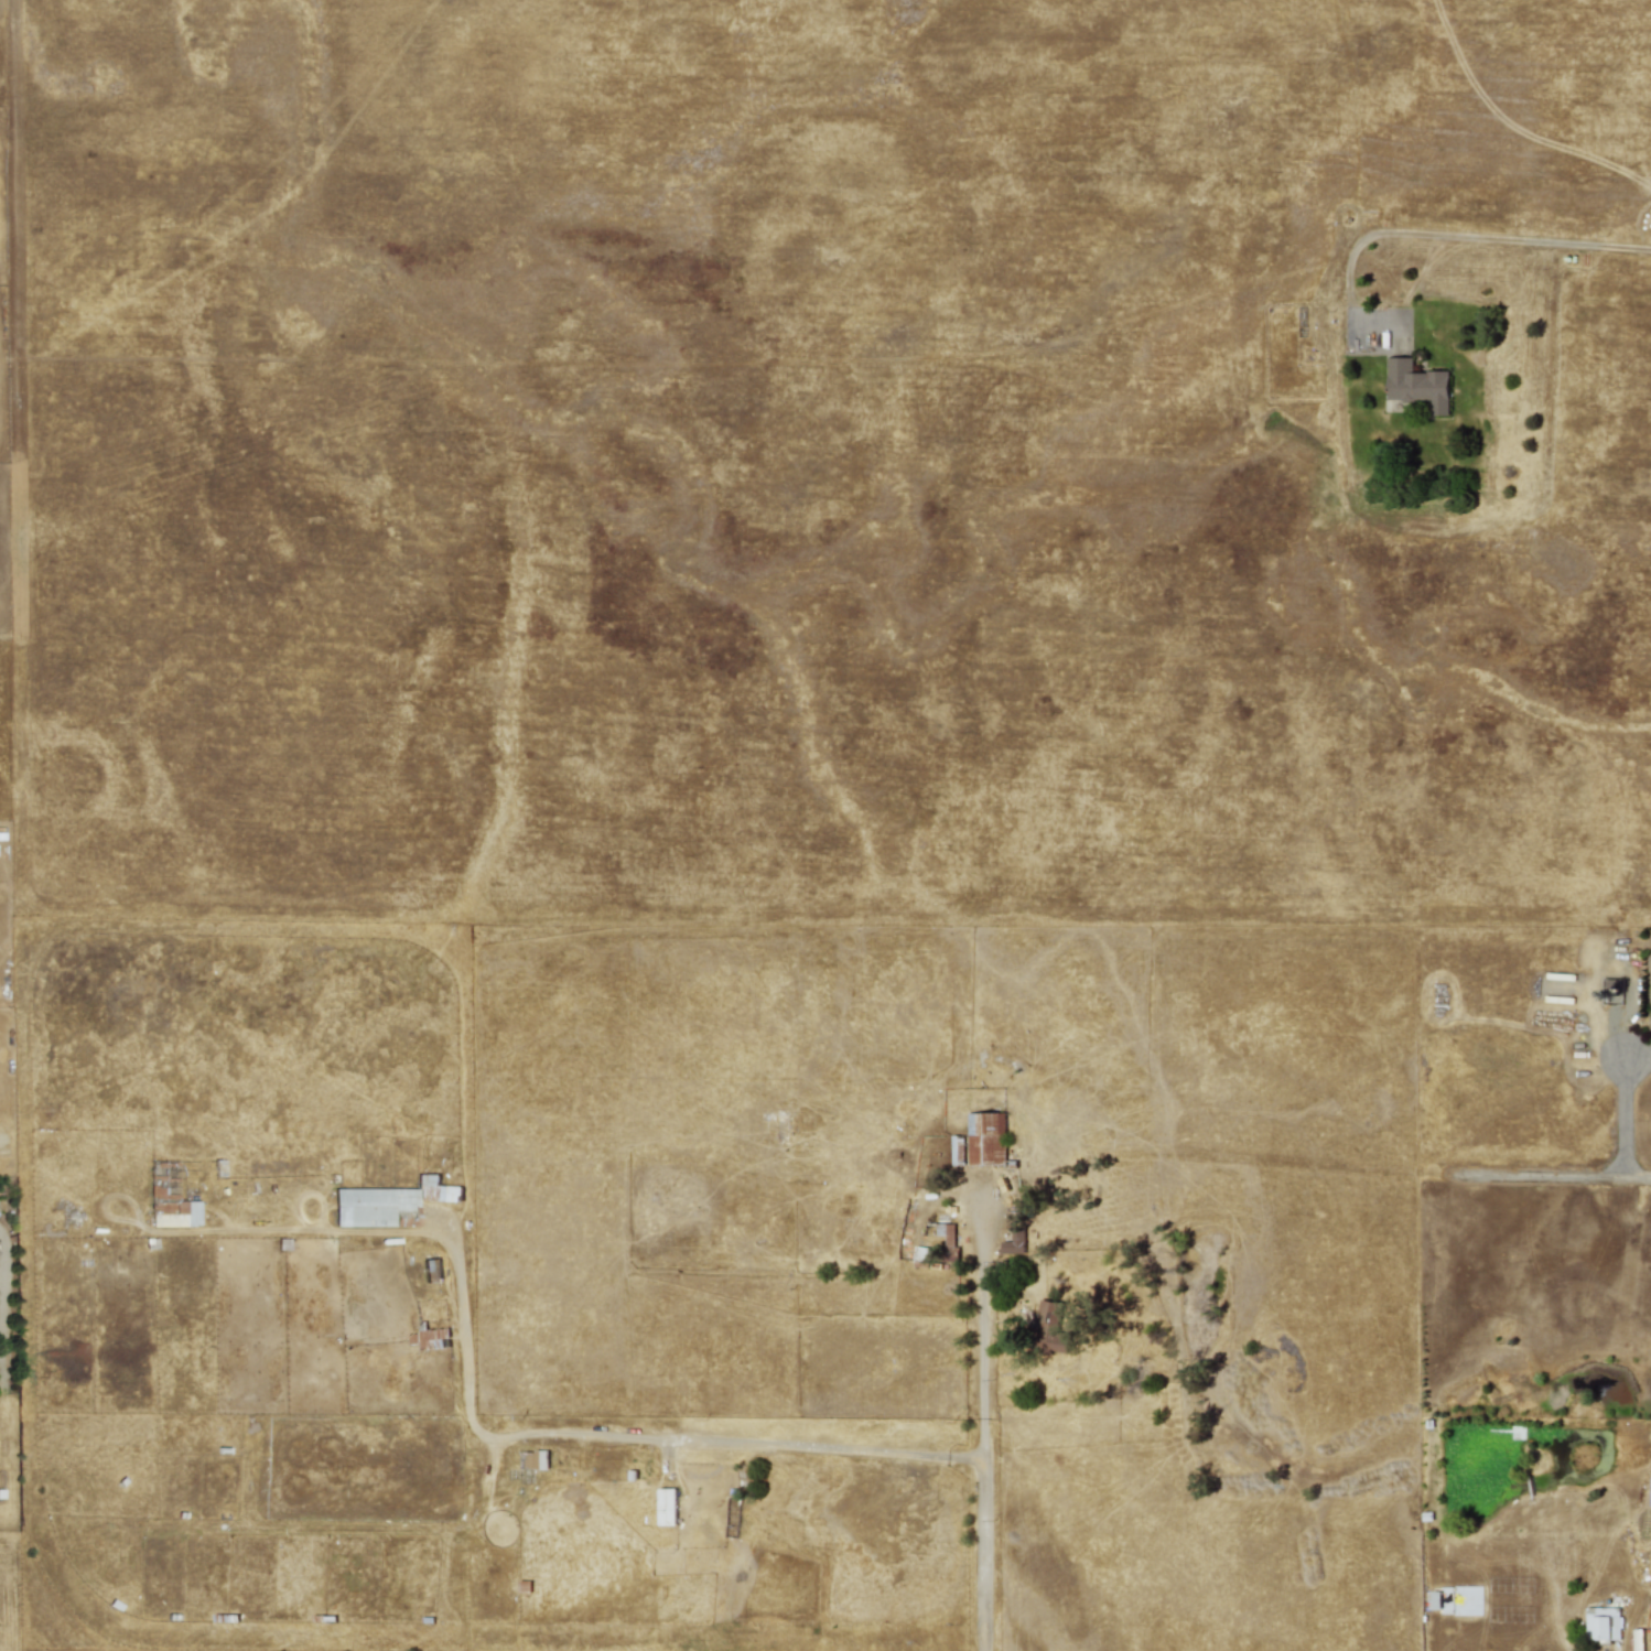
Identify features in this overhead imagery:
road: (1470, 238)
building: (1416, 385)
road: (1638, 1060)
road: (1625, 1119)
building: (985, 1139)
road: (1553, 1177)
building: (387, 1204)
building: (172, 1211)
building: (946, 1231)
building: (431, 1270)
building: (1049, 1329)
building: (423, 1338)
road: (981, 1428)
road: (621, 1431)
building: (533, 1460)
building: (666, 1507)
building: (1600, 1622)

